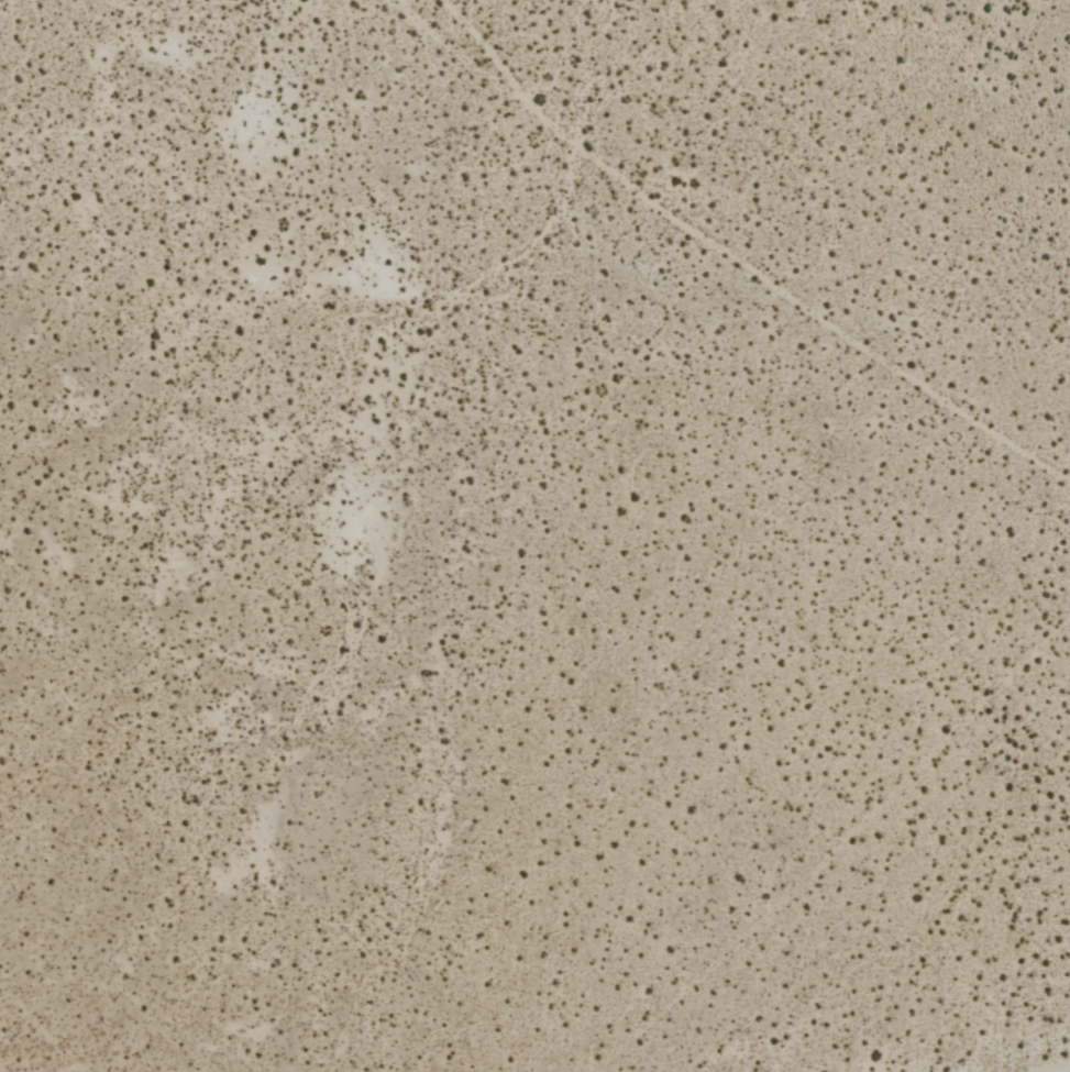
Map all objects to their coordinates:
airport: (534, 535)

